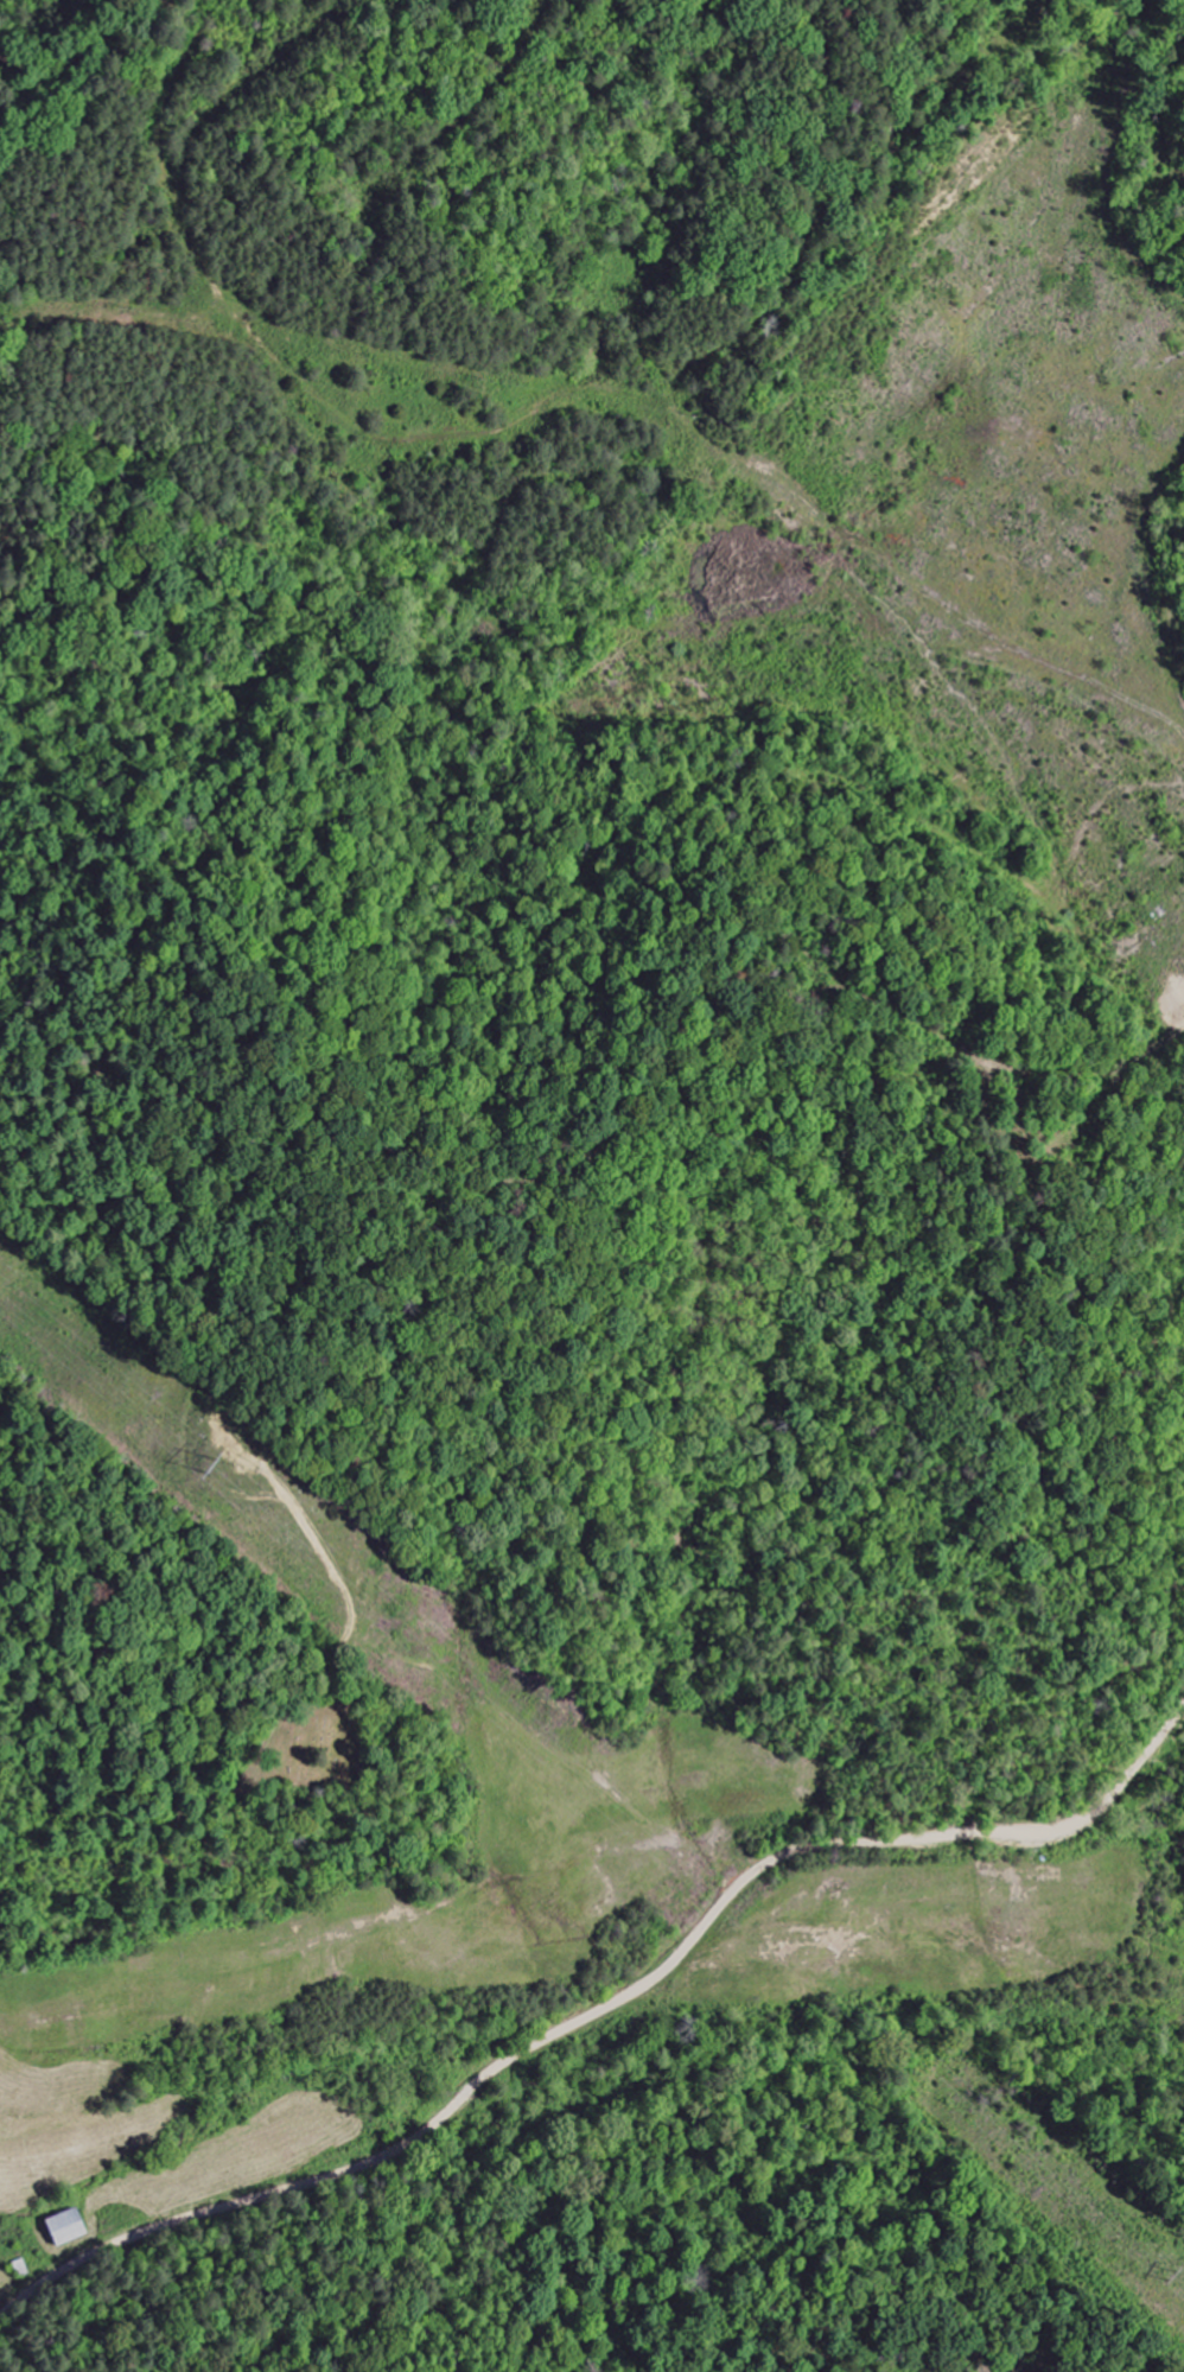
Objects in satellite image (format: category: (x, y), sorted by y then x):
road: (1164, 1738)
road: (583, 2022)
building: (66, 2227)

